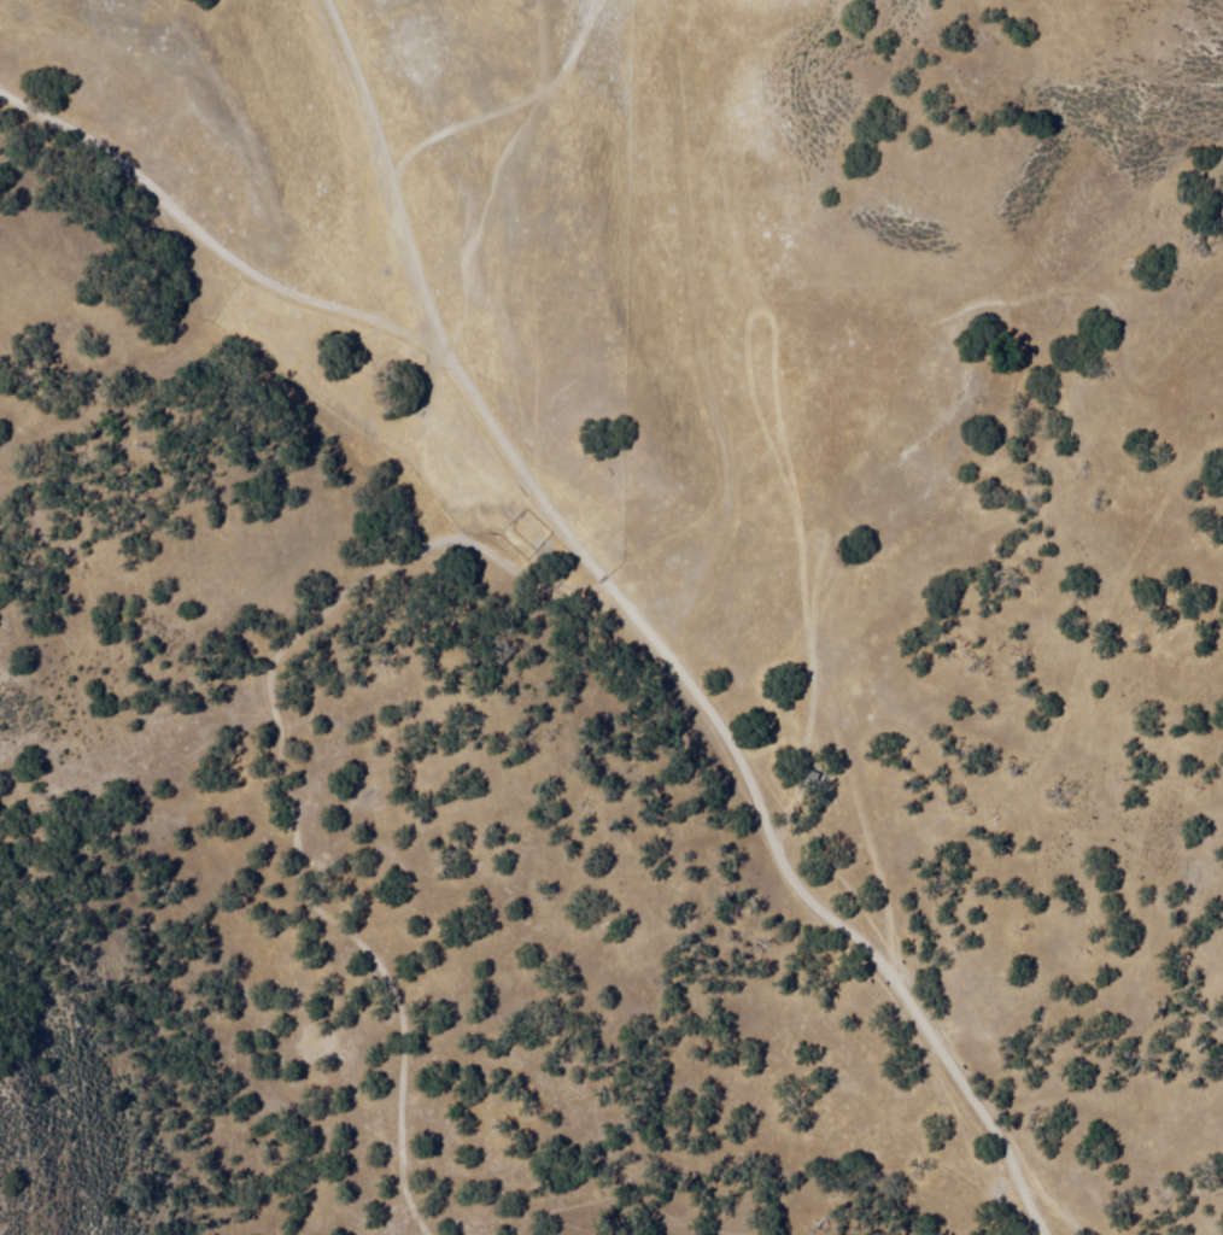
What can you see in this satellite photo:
road: (414, 302)
road: (626, 576)

